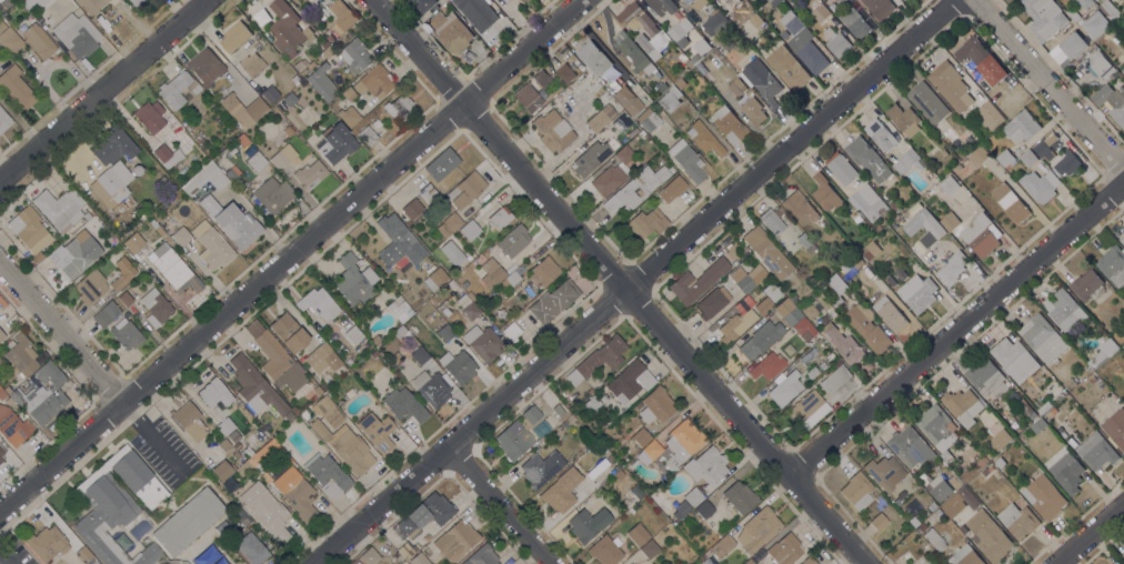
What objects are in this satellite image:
building: (0, 0)
building: (504, 0)
building: (506, 0)
building: (836, 0)
building: (776, 1)
building: (842, 1)
building: (27, 2)
building: (136, 2)
building: (695, 2)
building: (1083, 3)
building: (423, 4)
building: (90, 6)
building: (660, 6)
building: (833, 6)
building: (709, 7)
building: (880, 7)
building: (1110, 10)
building: (478, 12)
building: (820, 12)
building: (343, 13)
building: (1073, 13)
building: (1044, 17)
building: (755, 20)
building: (791, 22)
building: (855, 22)
building: (715, 23)
building: (1095, 23)
building: (2, 26)
building: (679, 28)
building: (450, 29)
building: (289, 30)
building: (655, 31)
building: (77, 36)
building: (234, 36)
building: (715, 40)
building: (28, 41)
building: (836, 41)
building: (727, 43)
building: (1074, 44)
building: (709, 46)
building: (325, 50)
building: (632, 53)
building: (354, 56)
building: (812, 57)
building: (593, 58)
building: (682, 58)
building: (334, 59)
building: (982, 59)
building: (1101, 63)
building: (251, 64)
building: (299, 64)
building: (311, 64)
building: (205, 66)
building: (787, 68)
building: (1122, 70)
building: (564, 72)
building: (294, 79)
building: (763, 80)
building: (542, 81)
building: (322, 82)
building: (371, 83)
building: (681, 83)
building: (950, 84)
building: (661, 85)
road: (1047, 85)
building: (737, 87)
building: (17, 88)
building: (177, 89)
road: (103, 91)
building: (270, 93)
building: (528, 98)
building: (289, 99)
building: (670, 99)
building: (628, 100)
building: (1111, 100)
building: (927, 101)
building: (281, 105)
building: (399, 107)
building: (242, 109)
building: (753, 110)
building: (349, 115)
building: (988, 115)
building: (150, 117)
building: (600, 118)
building: (904, 119)
building: (649, 120)
building: (3, 121)
building: (621, 122)
building: (375, 123)
building: (729, 124)
building: (1021, 125)
building: (553, 130)
building: (881, 134)
building: (368, 135)
building: (704, 139)
building: (242, 140)
building: (200, 141)
building: (335, 142)
building: (113, 145)
building: (1045, 148)
building: (944, 152)
building: (980, 154)
building: (167, 155)
building: (282, 157)
building: (867, 158)
building: (1005, 158)
building: (1028, 158)
building: (590, 159)
building: (686, 160)
building: (255, 161)
building: (907, 161)
building: (1066, 163)
building: (221, 164)
building: (442, 164)
building: (841, 167)
building: (613, 173)
building: (233, 174)
building: (310, 174)
building: (663, 174)
building: (215, 179)
building: (111, 184)
building: (950, 184)
building: (1040, 184)
building: (672, 189)
building: (465, 190)
building: (632, 191)
building: (825, 192)
building: (429, 193)
building: (268, 194)
building: (867, 201)
building: (1010, 201)
building: (442, 202)
building: (895, 203)
building: (800, 208)
building: (59, 209)
building: (411, 209)
building: (500, 218)
building: (857, 219)
building: (772, 220)
building: (950, 220)
building: (229, 221)
building: (646, 222)
building: (449, 224)
building: (934, 228)
building: (29, 229)
building: (470, 230)
building: (981, 234)
building: (181, 236)
building: (400, 238)
building: (1122, 239)
building: (513, 240)
building: (133, 242)
building: (806, 242)
building: (211, 246)
building: (869, 250)
building: (766, 252)
building: (452, 253)
building: (74, 255)
building: (39, 258)
road: (291, 258)
building: (852, 261)
building: (1113, 264)
building: (952, 268)
building: (173, 269)
building: (545, 270)
building: (122, 273)
building: (491, 273)
building: (512, 278)
building: (747, 278)
building: (434, 279)
building: (354, 281)
road: (613, 281)
road: (639, 281)
building: (698, 281)
building: (1087, 284)
building: (90, 288)
building: (836, 288)
building: (917, 292)
building: (471, 295)
building: (124, 298)
building: (408, 298)
building: (463, 301)
building: (713, 301)
building: (822, 301)
building: (553, 302)
building: (319, 303)
building: (764, 305)
building: (155, 306)
building: (1063, 309)
building: (471, 310)
building: (810, 310)
building: (787, 311)
building: (107, 313)
building: (890, 313)
building: (126, 314)
building: (735, 325)
building: (867, 326)
road: (955, 329)
building: (804, 330)
road: (62, 331)
building: (511, 331)
building: (289, 332)
building: (444, 332)
building: (353, 334)
building: (127, 335)
building: (404, 335)
building: (0, 336)
building: (1042, 338)
building: (375, 339)
building: (761, 339)
building: (483, 342)
building: (843, 343)
building: (1102, 353)
building: (20, 355)
building: (419, 355)
building: (1013, 356)
building: (41, 357)
building: (275, 357)
building: (322, 357)
building: (397, 357)
building: (598, 359)
building: (0, 362)
building: (767, 365)
building: (823, 365)
building: (458, 366)
building: (812, 372)
building: (986, 377)
building: (834, 379)
building: (1092, 379)
building: (630, 381)
building: (1070, 382)
building: (27, 383)
building: (254, 385)
building: (432, 387)
building: (318, 389)
building: (785, 389)
building: (589, 392)
building: (214, 393)
building: (2, 394)
building: (40, 394)
building: (602, 395)
building: (1122, 399)
building: (1021, 402)
building: (593, 403)
building: (962, 404)
building: (404, 405)
building: (639, 405)
building: (655, 405)
building: (1042, 407)
building: (809, 409)
building: (556, 410)
building: (1052, 410)
building: (327, 411)
building: (1032, 413)
building: (304, 414)
building: (531, 414)
building: (289, 415)
building: (189, 421)
building: (524, 424)
building: (1038, 424)
building: (224, 425)
building: (13, 426)
building: (1115, 426)
building: (937, 429)
building: (540, 430)
building: (377, 431)
building: (233, 435)
building: (641, 436)
building: (998, 439)
building: (513, 441)
building: (1072, 441)
building: (585, 442)
building: (906, 443)
building: (223, 444)
building: (235, 446)
building: (345, 446)
building: (672, 447)
building: (1096, 450)
building: (1, 451)
building: (927, 451)
building: (262, 452)
building: (1, 454)
building: (283, 455)
building: (237, 456)
building: (295, 456)
building: (0, 461)
building: (1000, 462)
building: (980, 463)
building: (706, 465)
building: (540, 467)
building: (243, 469)
building: (596, 469)
building: (221, 470)
building: (986, 470)
building: (884, 472)
building: (327, 473)
building: (1068, 474)
building: (265, 476)
building: (954, 481)
building: (940, 486)
building: (561, 491)
building: (636, 491)
building: (856, 491)
building: (295, 492)
building: (963, 492)
building: (693, 496)
building: (740, 496)
building: (1044, 496)
building: (590, 500)
building: (896, 502)
building: (117, 505)
building: (932, 506)
road: (501, 507)
building: (680, 510)
building: (703, 510)
building: (939, 511)
building: (893, 514)
building: (270, 515)
building: (242, 516)
building: (422, 516)
building: (1018, 518)
building: (188, 522)
building: (879, 522)
building: (913, 522)
building: (589, 523)
building: (922, 526)
building: (223, 528)
building: (757, 528)
building: (638, 534)
road: (1090, 534)
building: (988, 535)
building: (934, 540)
building: (455, 541)
building: (47, 543)
building: (383, 544)
building: (722, 545)
building: (251, 548)
building: (650, 548)
building: (605, 550)
building: (784, 550)
building: (407, 551)
building: (83, 554)
building: (1123, 554)
building: (704, 555)
building: (964, 555)
building: (370, 556)
building: (482, 556)
building: (634, 557)
building: (419, 558)
building: (807, 561)
building: (749, 562)
building: (354, 563)
building: (357, 563)
building: (403, 563)
building: (629, 563)
building: (630, 563)

